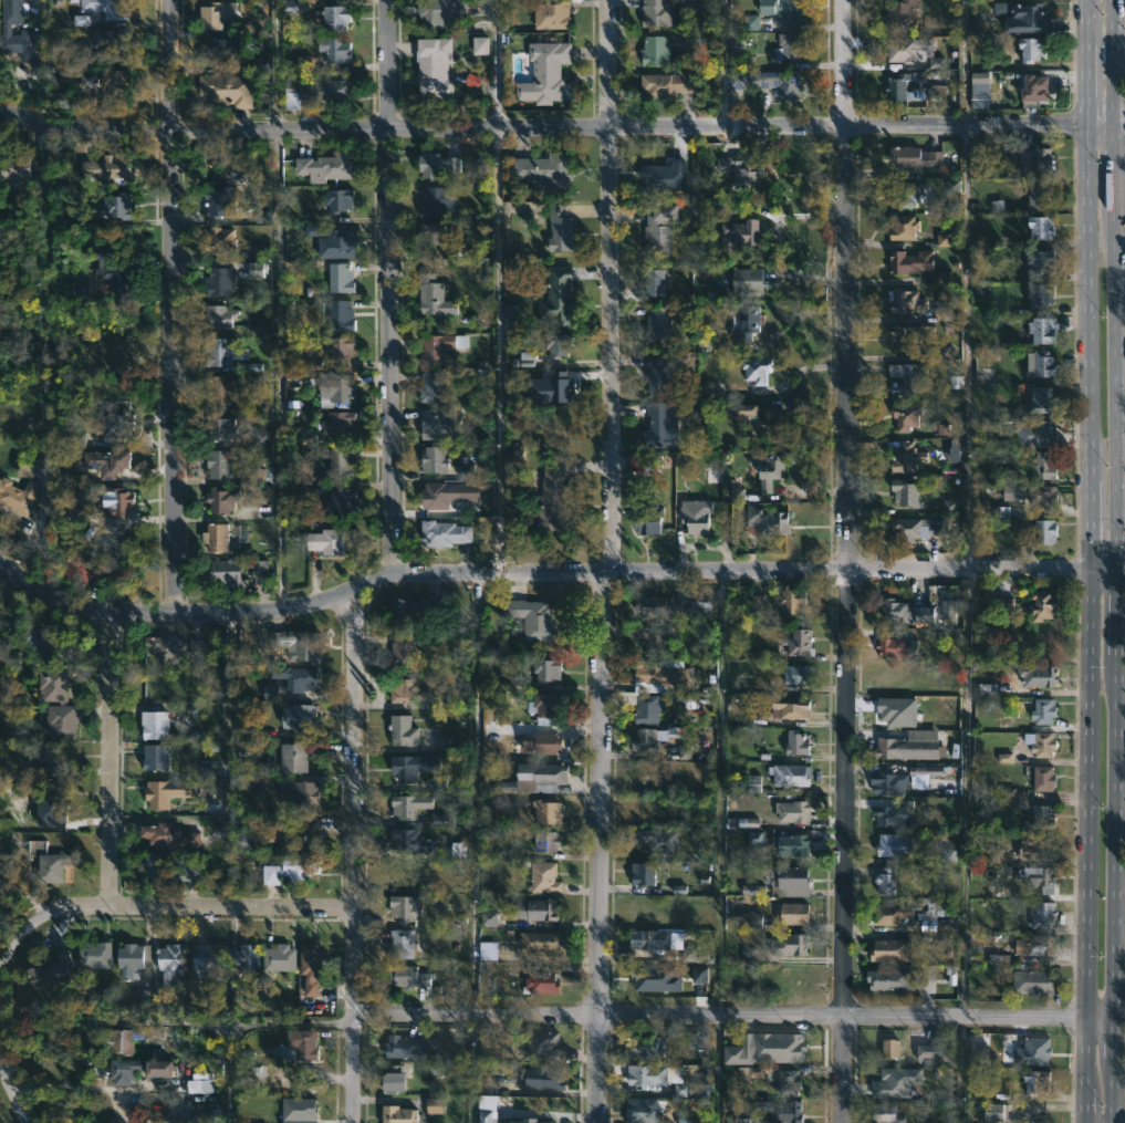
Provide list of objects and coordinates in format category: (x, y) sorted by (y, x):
building: (103, 8)
building: (782, 11)
building: (434, 12)
building: (656, 13)
building: (551, 14)
building: (899, 15)
building: (208, 17)
building: (334, 19)
building: (1022, 19)
building: (751, 22)
building: (18, 33)
building: (106, 40)
building: (480, 45)
building: (792, 46)
building: (1029, 49)
building: (900, 50)
building: (655, 51)
building: (219, 52)
building: (338, 52)
building: (305, 62)
road: (961, 63)
road: (275, 64)
road: (496, 64)
road: (722, 64)
building: (434, 69)
building: (545, 73)
building: (104, 79)
building: (738, 80)
building: (666, 82)
building: (782, 82)
building: (322, 86)
building: (222, 87)
building: (900, 90)
building: (1031, 91)
building: (977, 95)
road: (1118, 122)
road: (1097, 123)
road: (963, 127)
road: (420, 128)
building: (918, 156)
building: (1035, 156)
building: (434, 164)
building: (323, 166)
building: (545, 167)
building: (13, 168)
building: (103, 168)
building: (740, 168)
building: (664, 175)
building: (905, 195)
building: (1038, 196)
building: (335, 199)
building: (217, 200)
building: (436, 200)
building: (112, 206)
building: (262, 216)
building: (1040, 225)
building: (558, 227)
building: (902, 227)
building: (659, 228)
building: (738, 232)
building: (430, 233)
building: (218, 239)
building: (944, 240)
building: (332, 241)
building: (1037, 261)
building: (915, 267)
building: (108, 270)
building: (257, 270)
building: (219, 275)
building: (338, 277)
building: (747, 279)
building: (653, 281)
road: (390, 289)
building: (83, 290)
building: (555, 294)
building: (1038, 294)
building: (431, 295)
building: (902, 301)
road: (174, 308)
building: (340, 314)
building: (217, 315)
building: (510, 316)
building: (748, 321)
building: (658, 322)
building: (1042, 329)
building: (907, 336)
building: (556, 343)
building: (341, 349)
building: (429, 349)
road: (966, 349)
building: (219, 350)
road: (499, 352)
building: (1040, 363)
road: (279, 370)
building: (756, 370)
building: (656, 373)
building: (903, 379)
building: (334, 386)
building: (430, 386)
building: (550, 388)
building: (218, 389)
building: (1041, 399)
building: (905, 417)
building: (756, 419)
building: (336, 423)
building: (436, 423)
building: (660, 425)
building: (118, 427)
building: (216, 428)
building: (942, 429)
building: (1028, 435)
building: (77, 439)
building: (954, 450)
building: (905, 456)
building: (431, 458)
building: (108, 461)
building: (217, 461)
building: (654, 461)
building: (338, 462)
building: (1043, 465)
building: (768, 466)
building: (467, 471)
building: (713, 474)
building: (256, 476)
building: (1012, 487)
building: (903, 492)
building: (439, 493)
building: (550, 495)
building: (737, 495)
building: (17, 496)
building: (1043, 497)
building: (218, 499)
building: (343, 500)
building: (123, 502)
building: (76, 513)
building: (695, 514)
building: (646, 516)
building: (765, 519)
building: (916, 528)
building: (445, 531)
building: (1044, 531)
building: (215, 535)
road: (42, 537)
building: (325, 541)
road: (613, 561)
road: (842, 561)
road: (1087, 561)
road: (1115, 561)
road: (1101, 566)
road: (1119, 566)
building: (96, 568)
building: (260, 569)
building: (228, 572)
road: (534, 574)
building: (763, 600)
building: (791, 601)
building: (1041, 604)
building: (657, 605)
building: (1002, 606)
building: (699, 607)
building: (948, 609)
building: (905, 611)
building: (402, 612)
building: (533, 618)
building: (655, 637)
building: (210, 642)
building: (798, 642)
building: (295, 644)
building: (44, 645)
building: (162, 645)
building: (896, 645)
building: (403, 649)
building: (543, 668)
building: (659, 674)
building: (795, 674)
building: (1037, 675)
building: (298, 677)
building: (892, 680)
building: (51, 682)
building: (404, 688)
building: (987, 690)
building: (271, 693)
building: (790, 707)
building: (645, 708)
building: (1043, 710)
building: (298, 717)
building: (59, 720)
building: (153, 725)
building: (540, 727)
building: (402, 730)
building: (642, 740)
building: (794, 742)
building: (447, 744)
building: (1043, 744)
building: (905, 746)
building: (685, 751)
building: (44, 752)
building: (156, 757)
building: (293, 757)
road: (114, 761)
building: (402, 767)
building: (926, 770)
building: (789, 774)
building: (531, 777)
building: (1043, 778)
building: (886, 782)
building: (753, 783)
building: (165, 792)
building: (304, 793)
building: (407, 803)
building: (46, 807)
building: (791, 811)
building: (545, 812)
building: (892, 814)
building: (1040, 818)
building: (291, 831)
building: (166, 836)
building: (656, 840)
building: (409, 841)
building: (545, 841)
building: (794, 844)
building: (892, 844)
building: (1034, 848)
building: (949, 856)
building: (996, 856)
road: (353, 857)
building: (45, 862)
building: (166, 867)
building: (290, 870)
building: (642, 873)
building: (543, 877)
building: (1041, 880)
building: (790, 881)
building: (883, 881)
road: (194, 906)
building: (407, 906)
building: (939, 907)
building: (540, 909)
building: (791, 914)
building: (888, 914)
building: (1040, 914)
building: (489, 918)
building: (751, 921)
building: (928, 921)
road: (15, 936)
building: (653, 939)
building: (541, 942)
building: (399, 944)
building: (789, 945)
building: (1032, 945)
building: (886, 949)
building: (488, 950)
building: (242, 955)
building: (691, 955)
building: (95, 956)
building: (206, 958)
building: (278, 958)
building: (999, 959)
building: (127, 960)
building: (309, 968)
building: (55, 970)
building: (929, 973)
building: (168, 974)
building: (699, 974)
building: (407, 977)
building: (656, 978)
building: (889, 980)
building: (1029, 981)
building: (540, 984)
road: (732, 1017)
road: (248, 1025)
building: (699, 1040)
building: (122, 1042)
building: (301, 1043)
building: (407, 1046)
building: (541, 1047)
building: (647, 1047)
building: (890, 1048)
building: (768, 1049)
building: (931, 1049)
building: (1034, 1052)
building: (163, 1069)
building: (127, 1070)
building: (756, 1072)
building: (252, 1073)
building: (543, 1075)
building: (649, 1075)
building: (389, 1078)
building: (1033, 1081)
building: (788, 1082)
building: (896, 1082)
building: (201, 1086)
road: (64, 1088)
building: (691, 1090)
road: (14, 1092)
building: (436, 1105)
building: (644, 1110)
building: (779, 1110)
building: (300, 1111)
building: (399, 1112)
building: (994, 1112)
building: (884, 1113)
building: (485, 1115)
building: (532, 1121)

